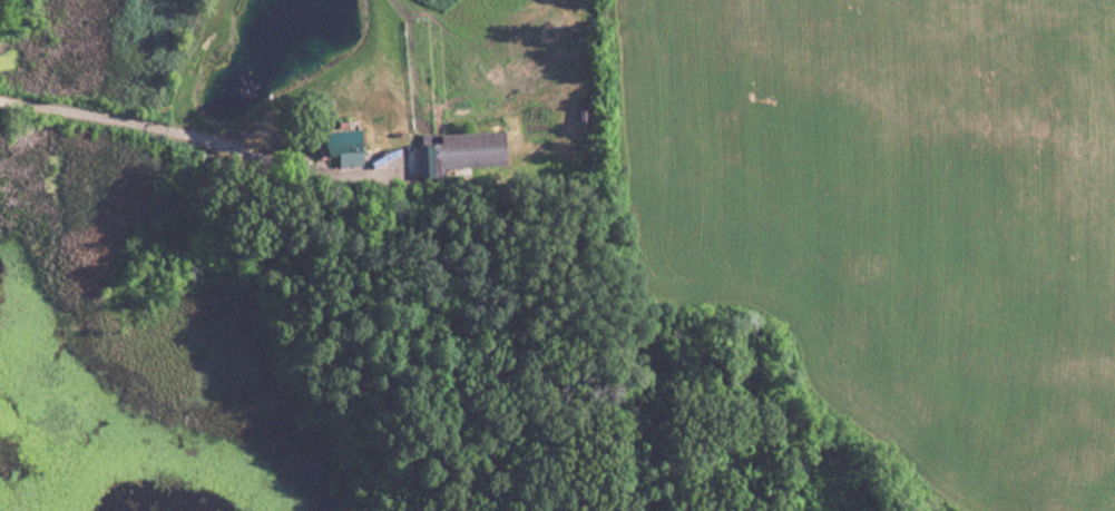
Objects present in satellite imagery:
road: (145, 131)

